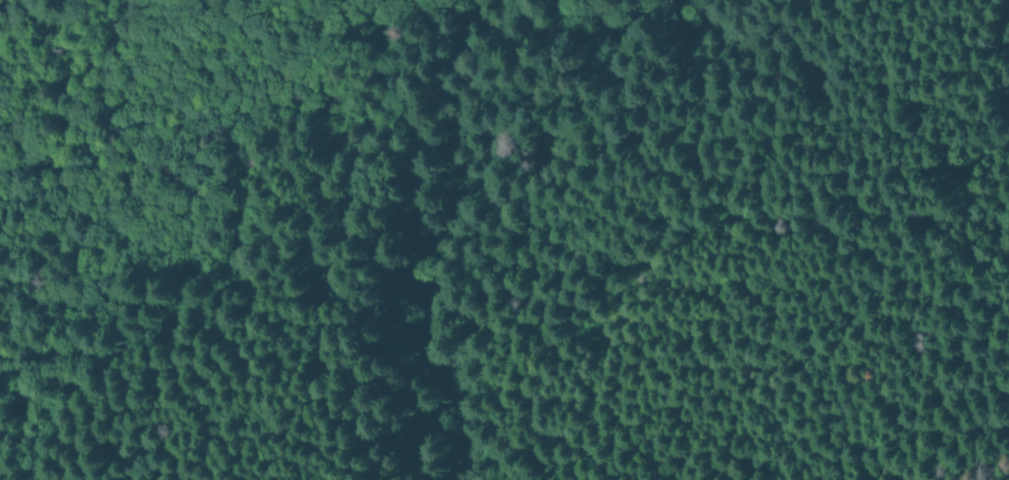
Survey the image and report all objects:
road: (844, 107)

